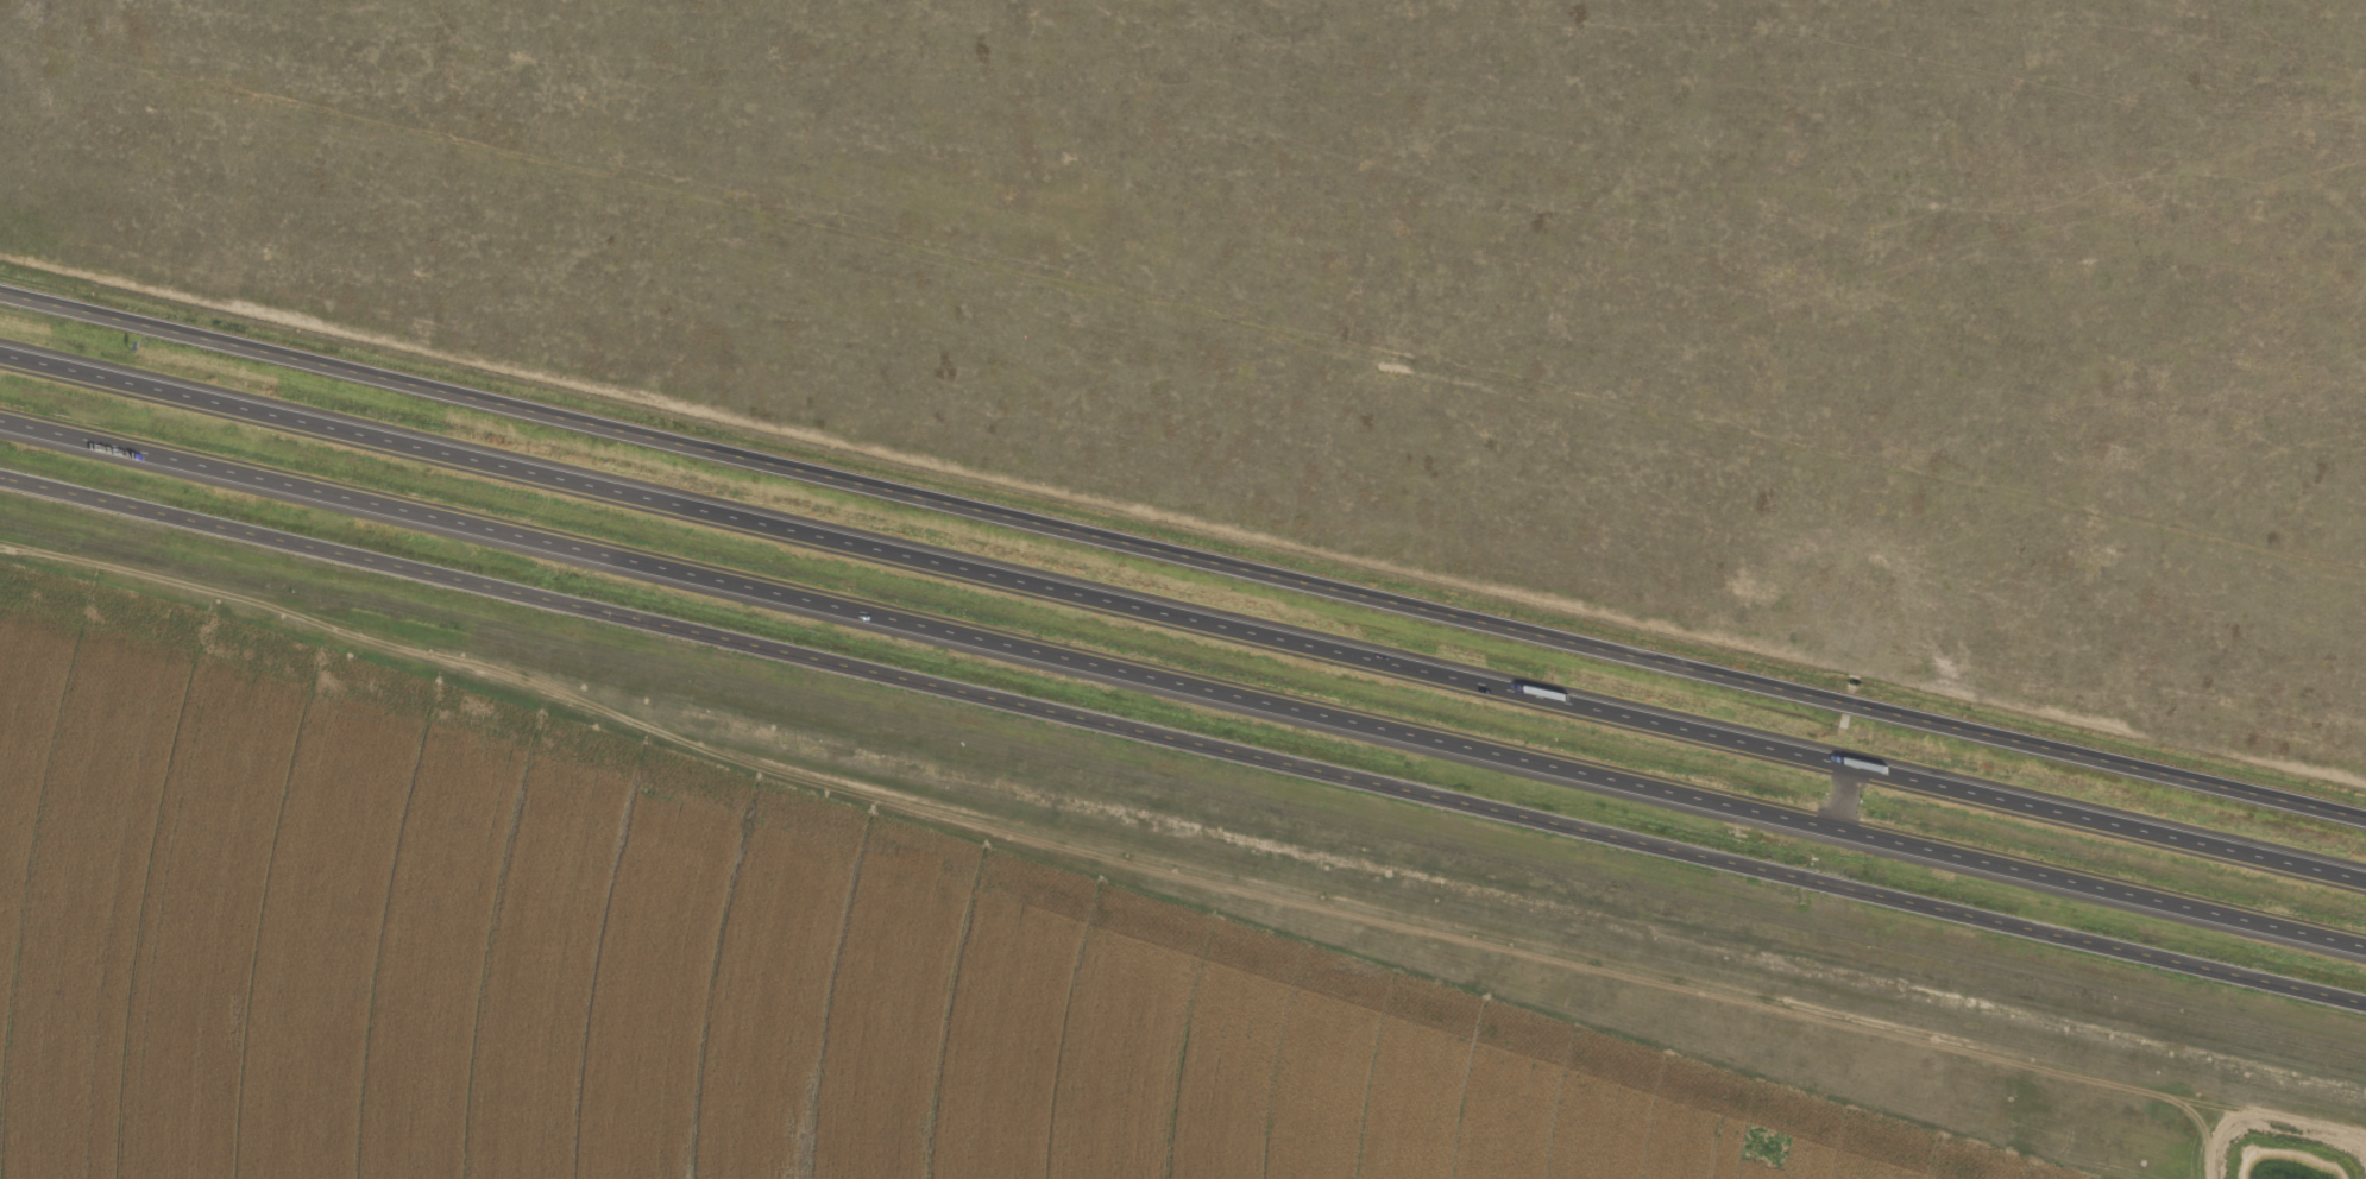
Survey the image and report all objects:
road: (1182, 553)
road: (1182, 616)
road: (1182, 686)
road: (1182, 738)

